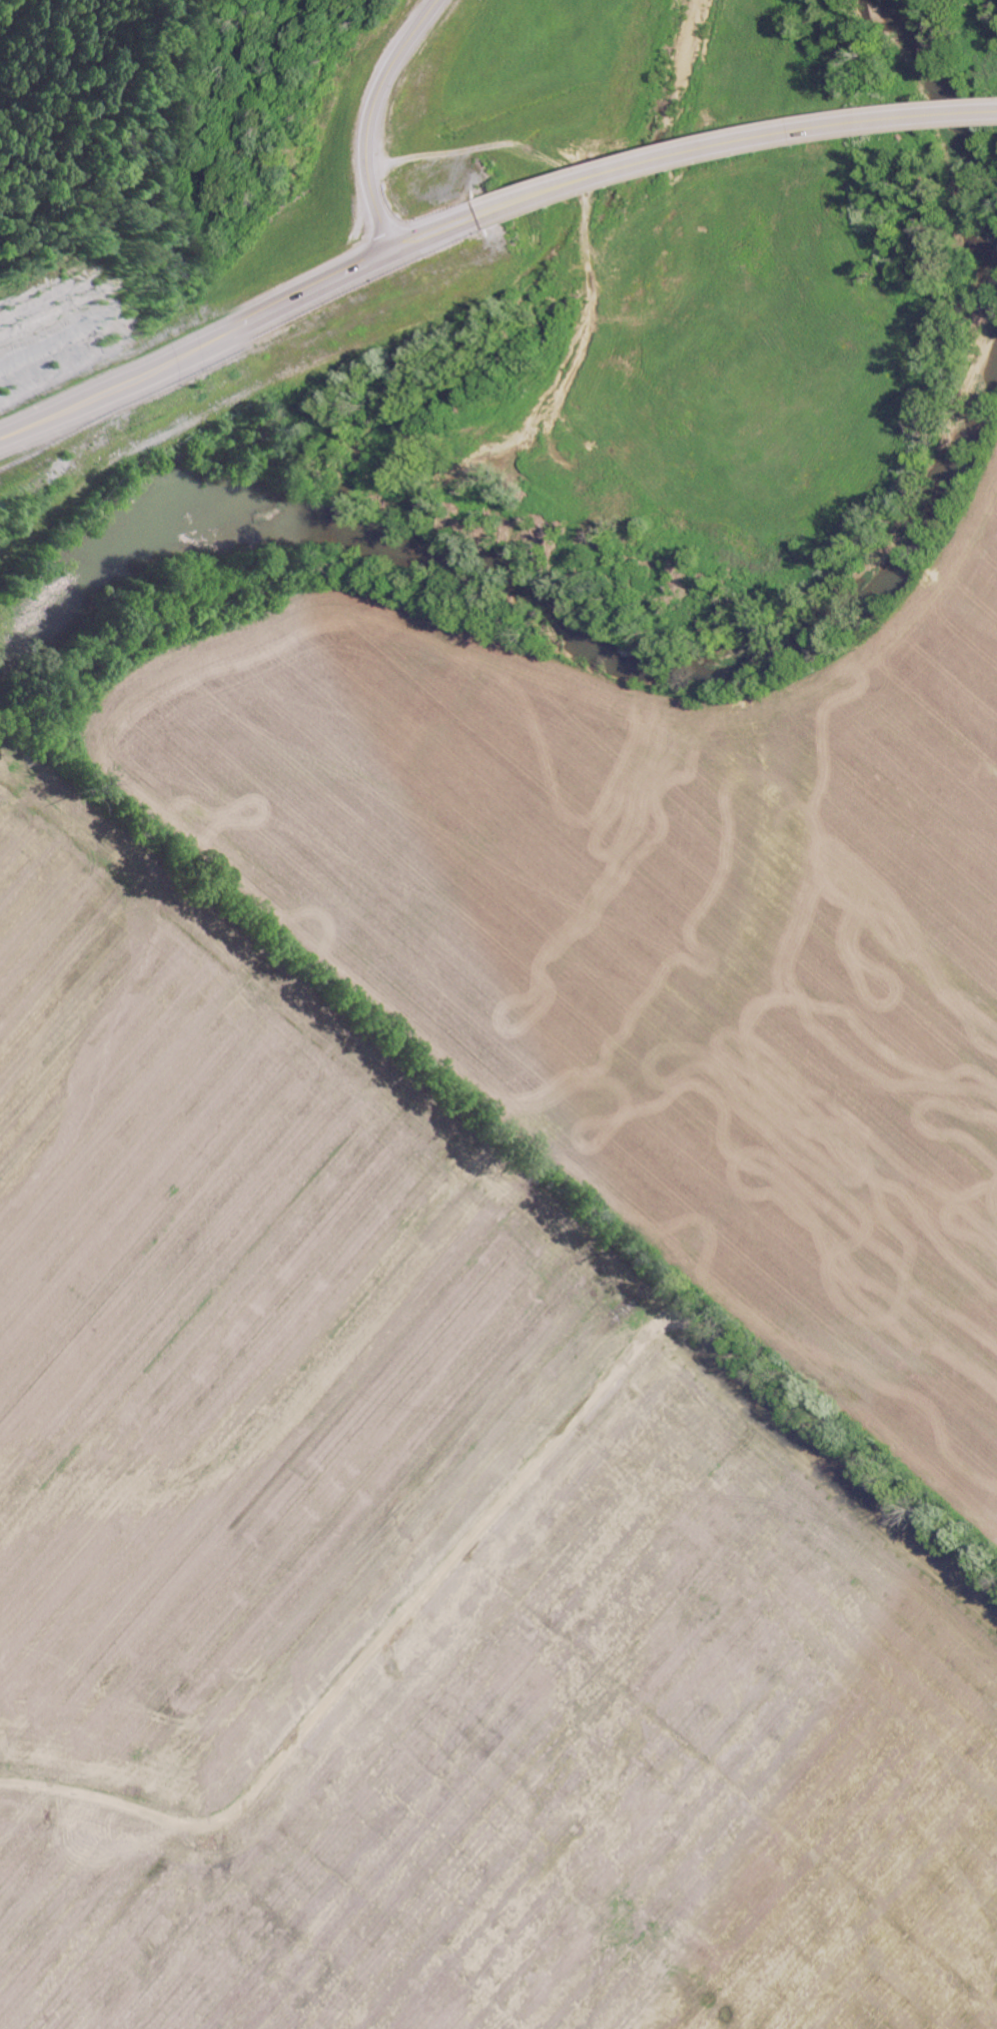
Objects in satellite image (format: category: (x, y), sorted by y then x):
road: (372, 118)
road: (735, 140)
road: (239, 329)
river: (711, 653)

